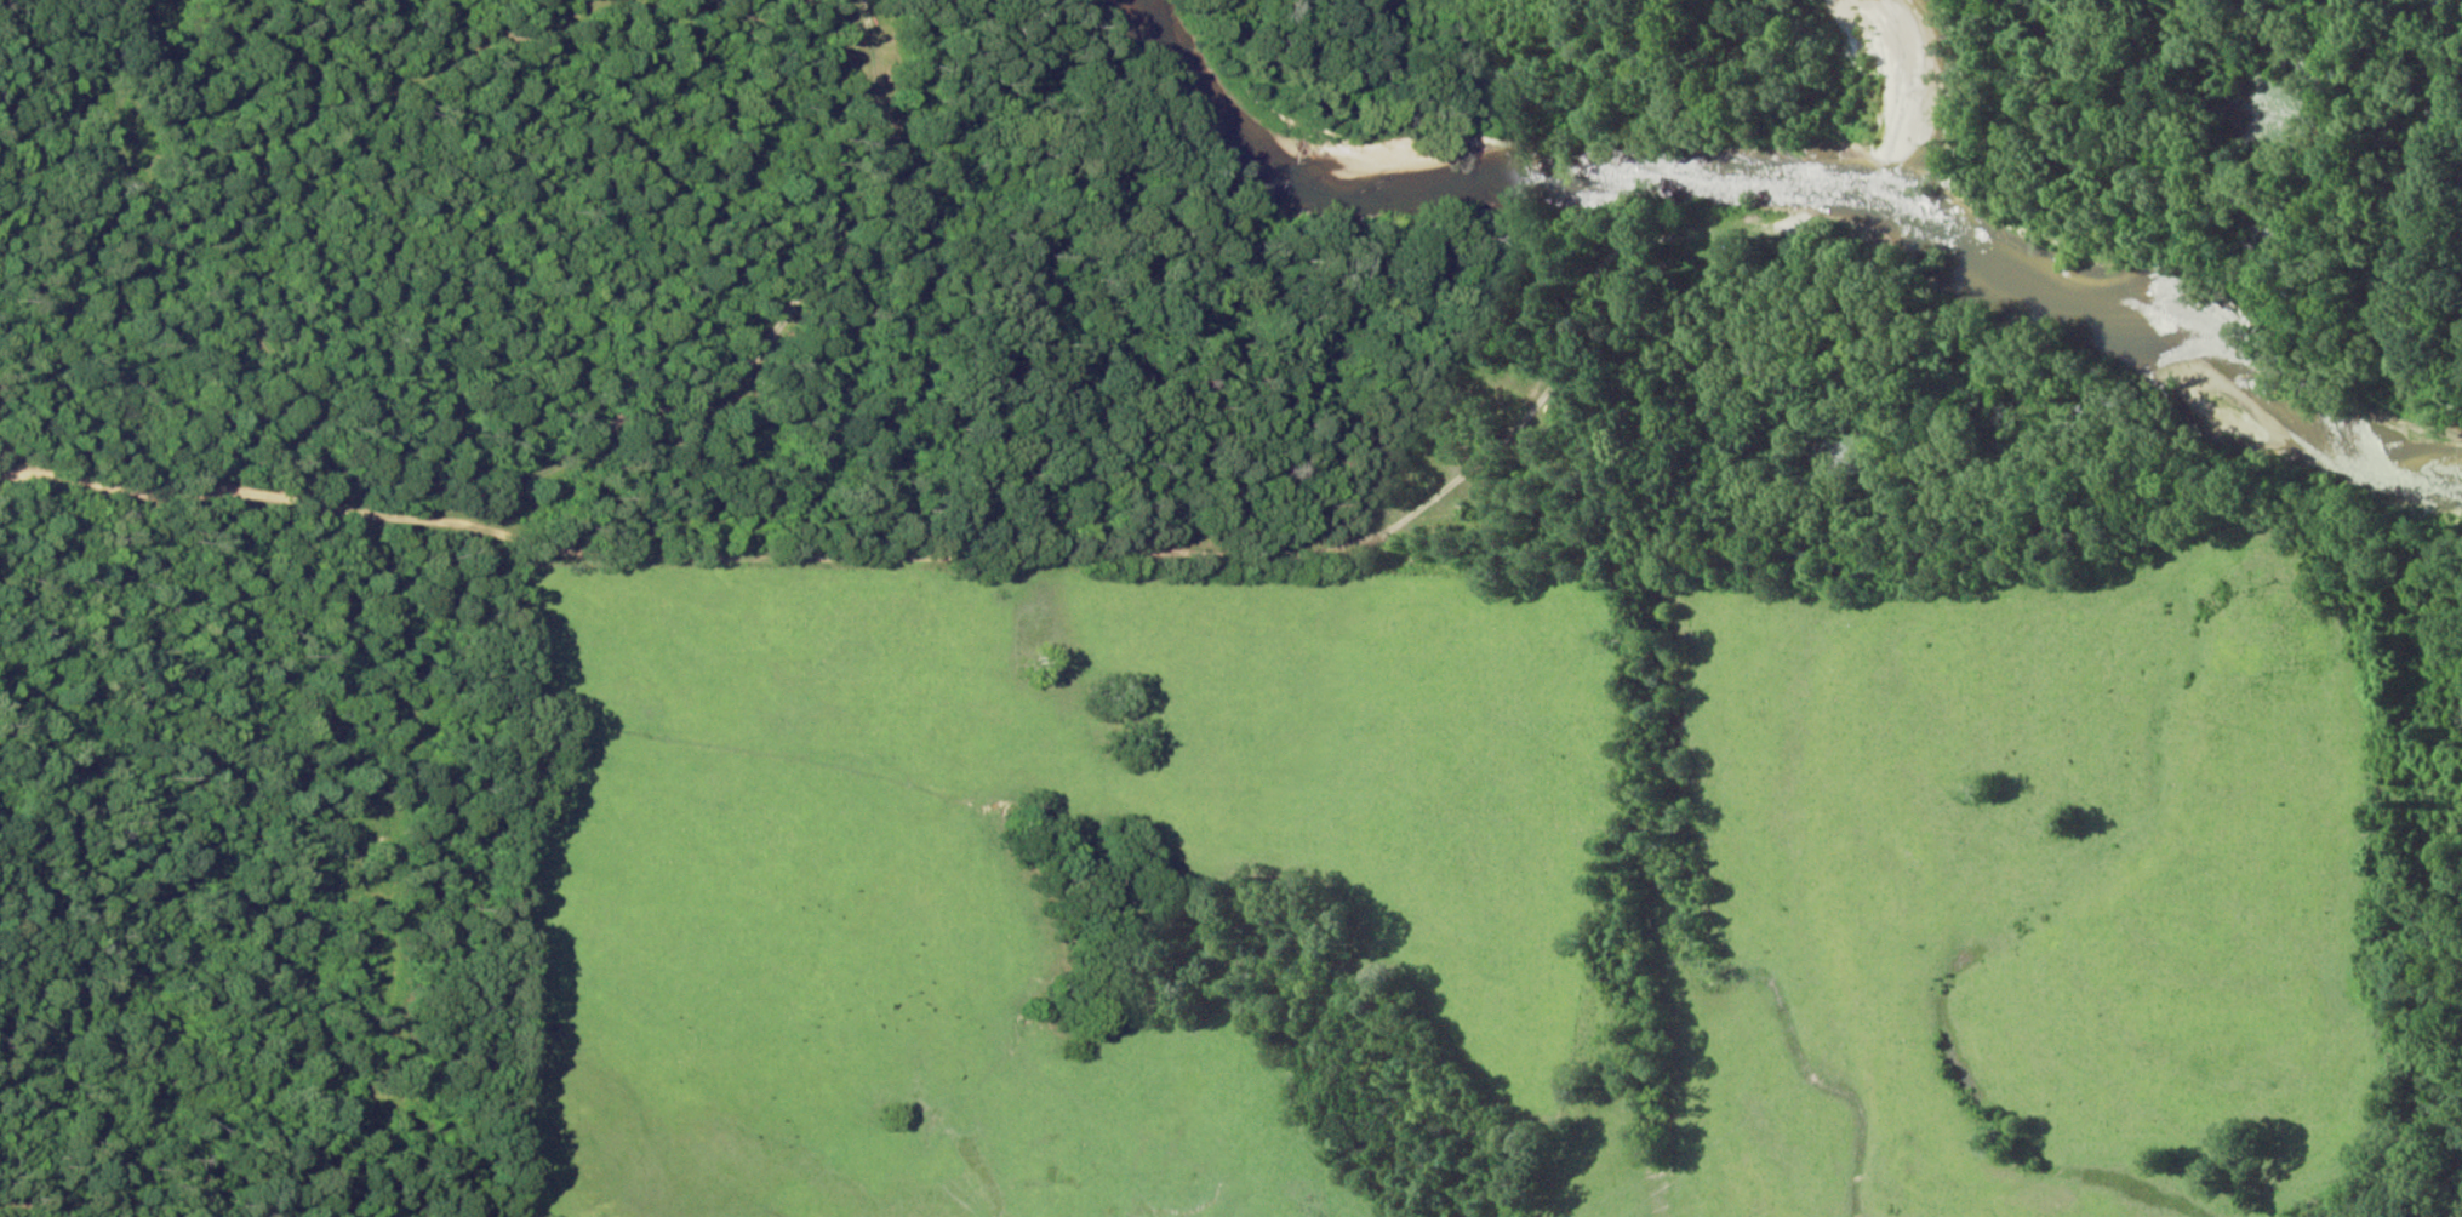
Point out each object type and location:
road: (827, 629)

